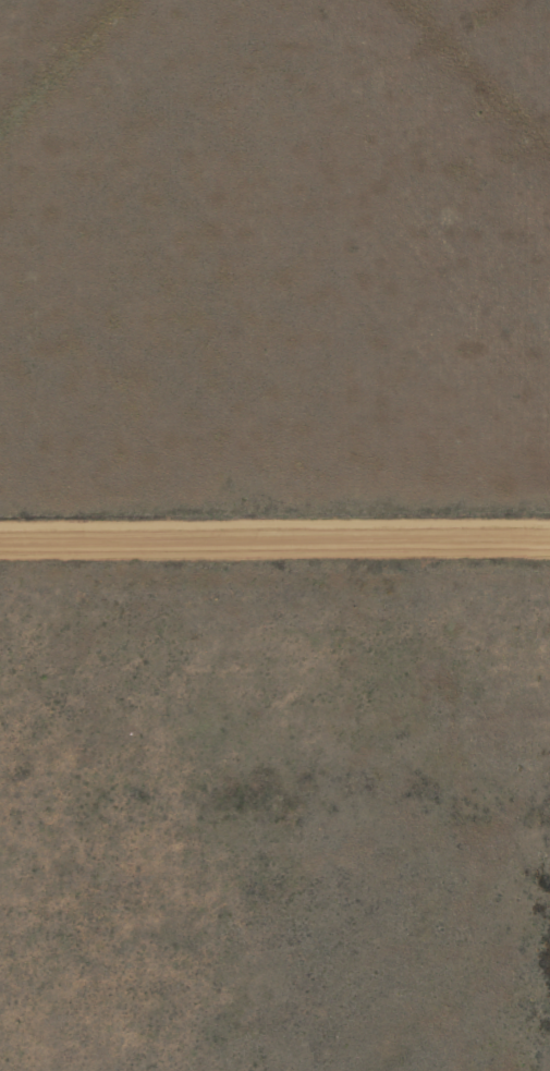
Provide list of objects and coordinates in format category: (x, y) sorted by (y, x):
road: (274, 580)

